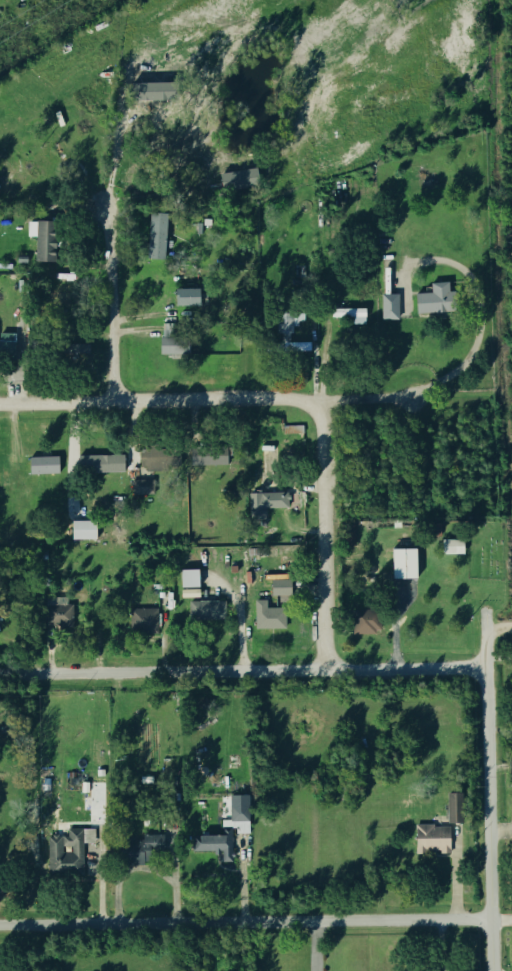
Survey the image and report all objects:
park: (506, 89)
building: (154, 91)
road: (113, 140)
building: (239, 180)
building: (157, 236)
building: (40, 241)
building: (187, 297)
building: (436, 299)
road: (112, 301)
building: (391, 306)
road: (481, 312)
building: (348, 313)
building: (283, 331)
building: (171, 342)
building: (6, 344)
building: (288, 347)
building: (74, 353)
road: (204, 400)
building: (158, 460)
building: (101, 464)
building: (44, 465)
building: (140, 488)
building: (267, 503)
building: (84, 530)
road: (323, 534)
building: (348, 535)
building: (453, 547)
building: (404, 564)
building: (189, 579)
building: (281, 587)
building: (207, 610)
building: (57, 617)
building: (267, 618)
building: (145, 621)
building: (364, 624)
road: (499, 628)
road: (243, 670)
road: (500, 766)
road: (488, 788)
building: (239, 808)
building: (449, 809)
building: (431, 841)
building: (151, 844)
building: (67, 852)
road: (245, 875)
road: (122, 883)
road: (502, 918)
road: (245, 921)
road: (446, 944)

